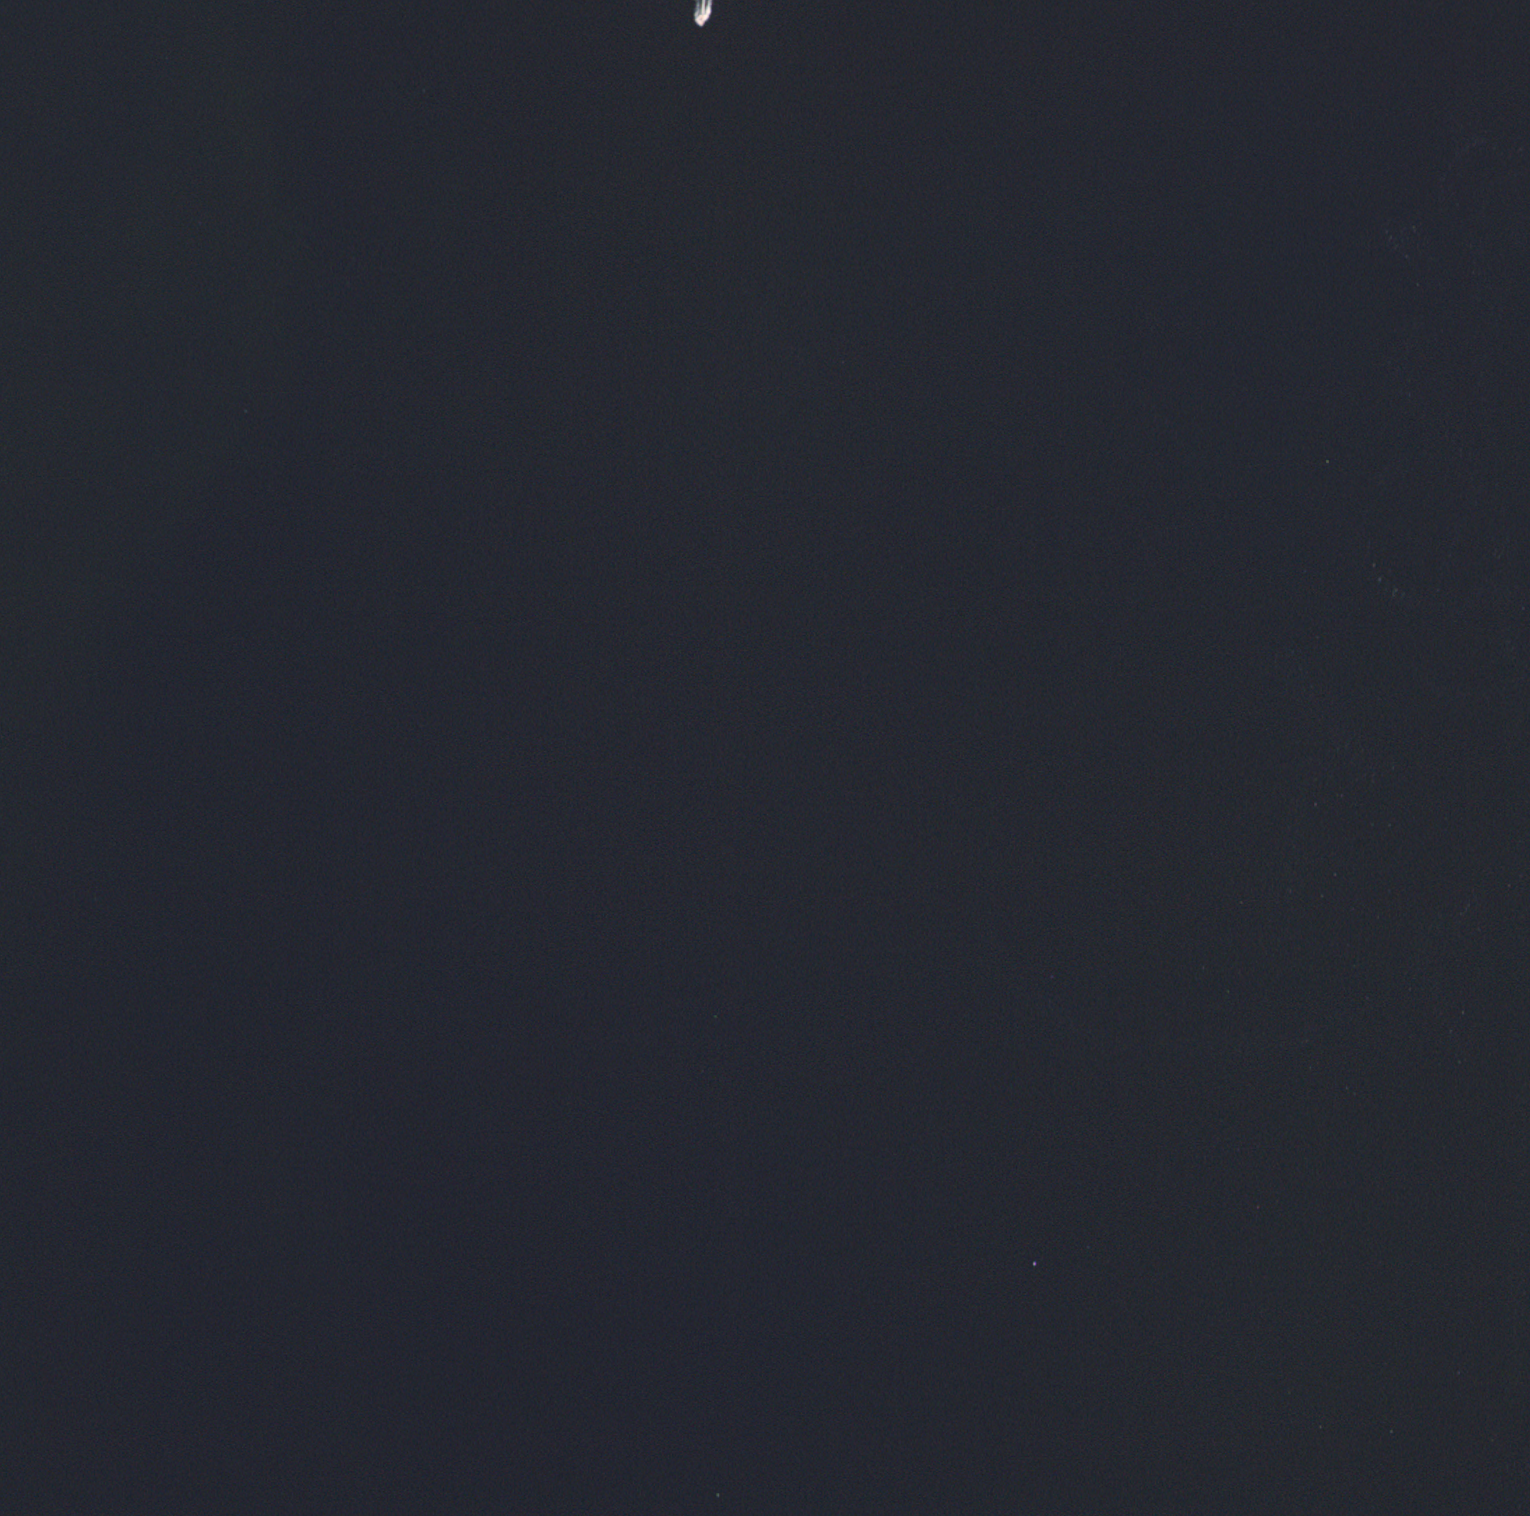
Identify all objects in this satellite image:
river: (446, 758)

